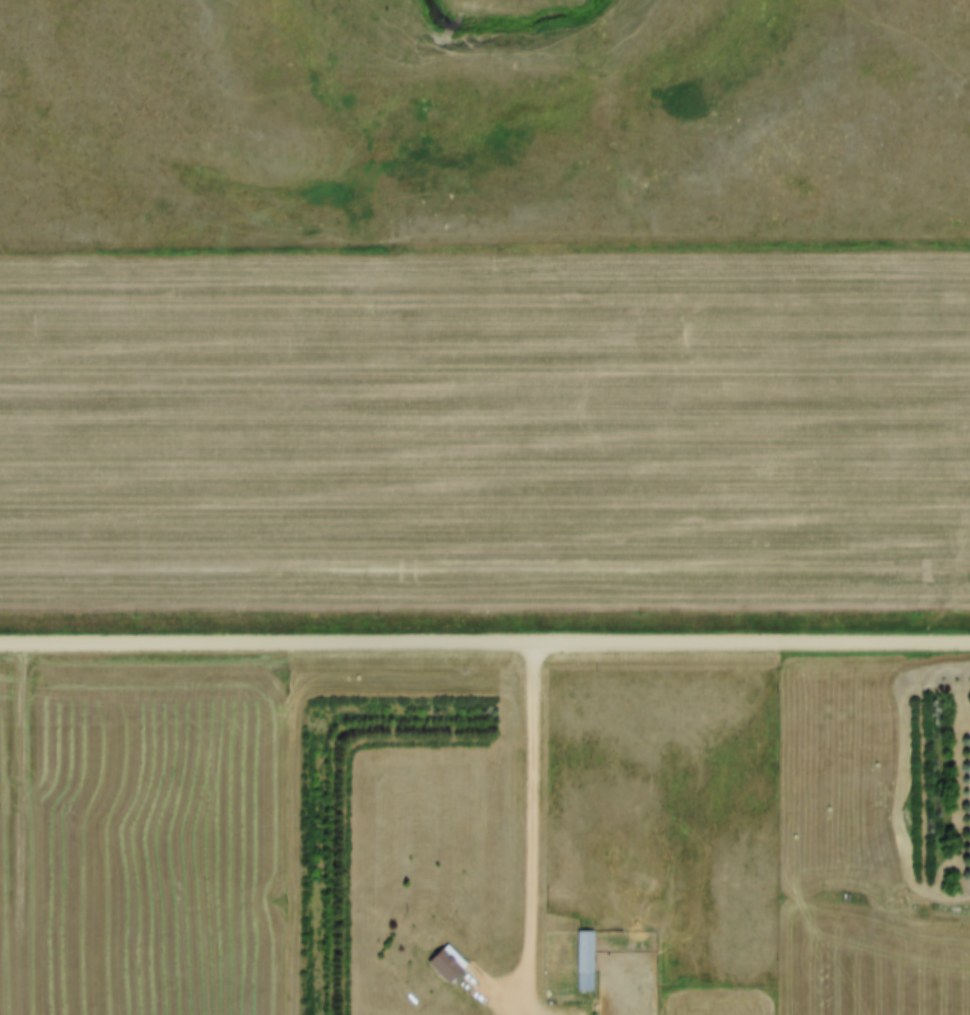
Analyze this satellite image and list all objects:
road: (484, 645)
road: (20, 781)
road: (533, 830)
building: (586, 952)

